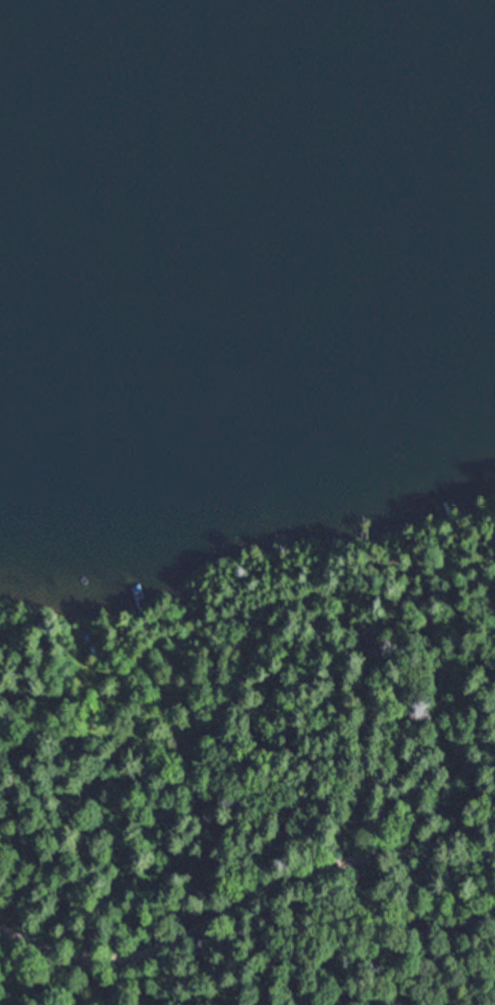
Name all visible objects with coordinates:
road: (248, 902)

